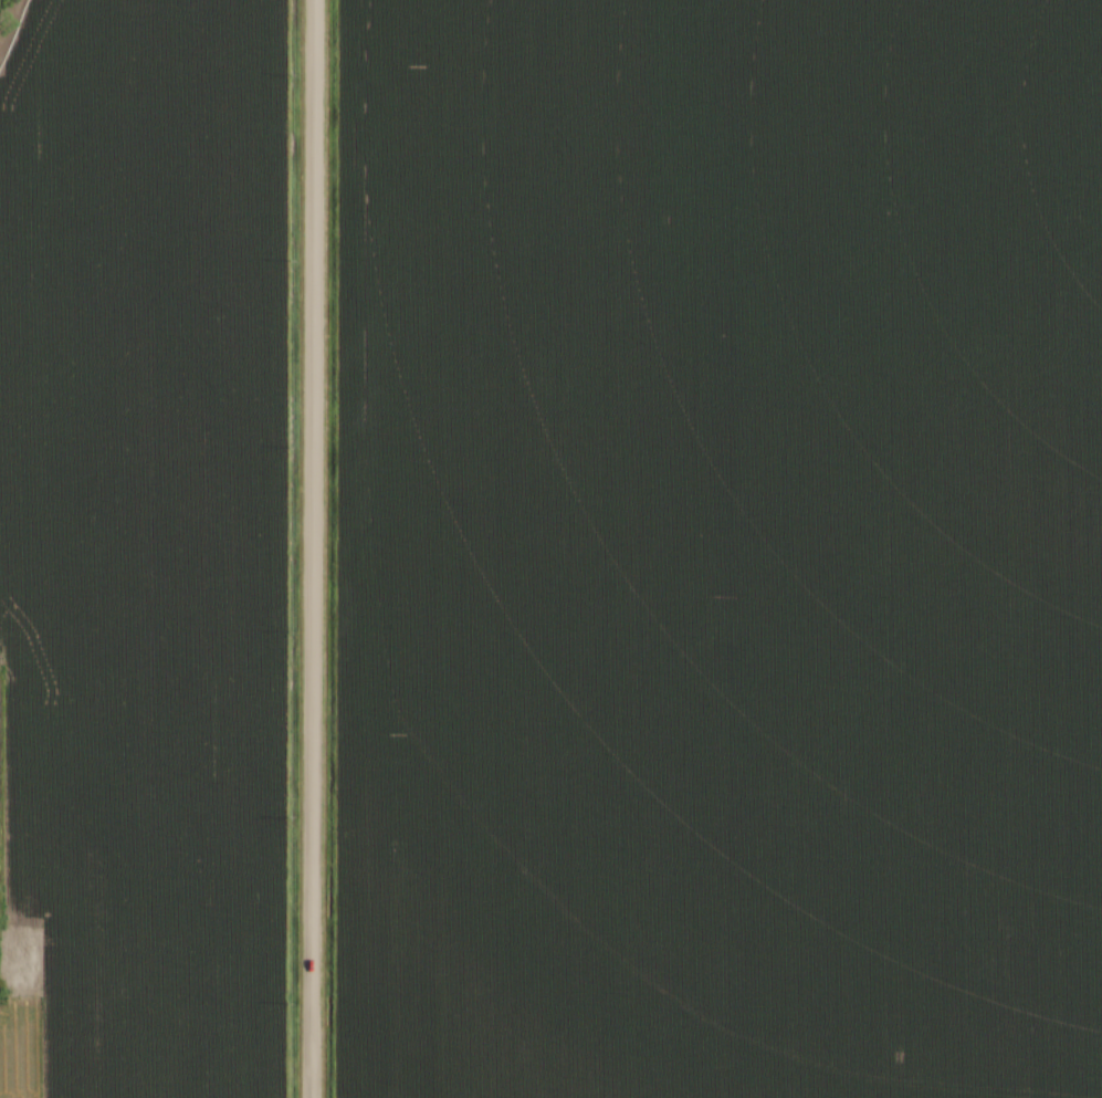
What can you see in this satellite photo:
crop: (147, 535)
road: (315, 548)
crop: (718, 548)

